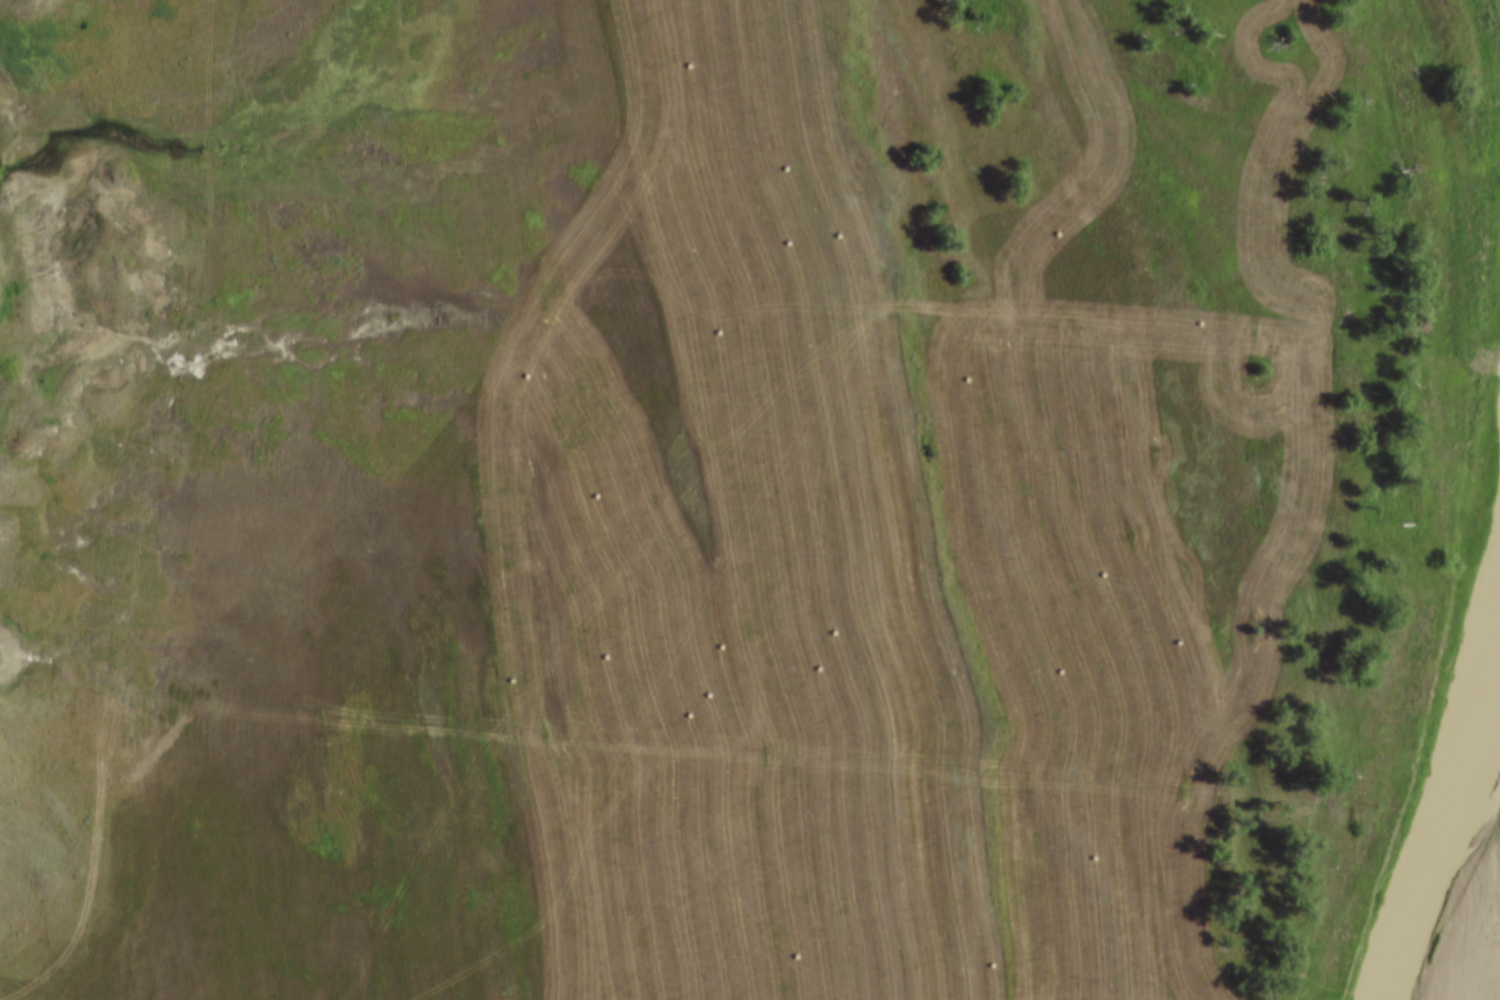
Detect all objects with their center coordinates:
river: (1441, 821)

